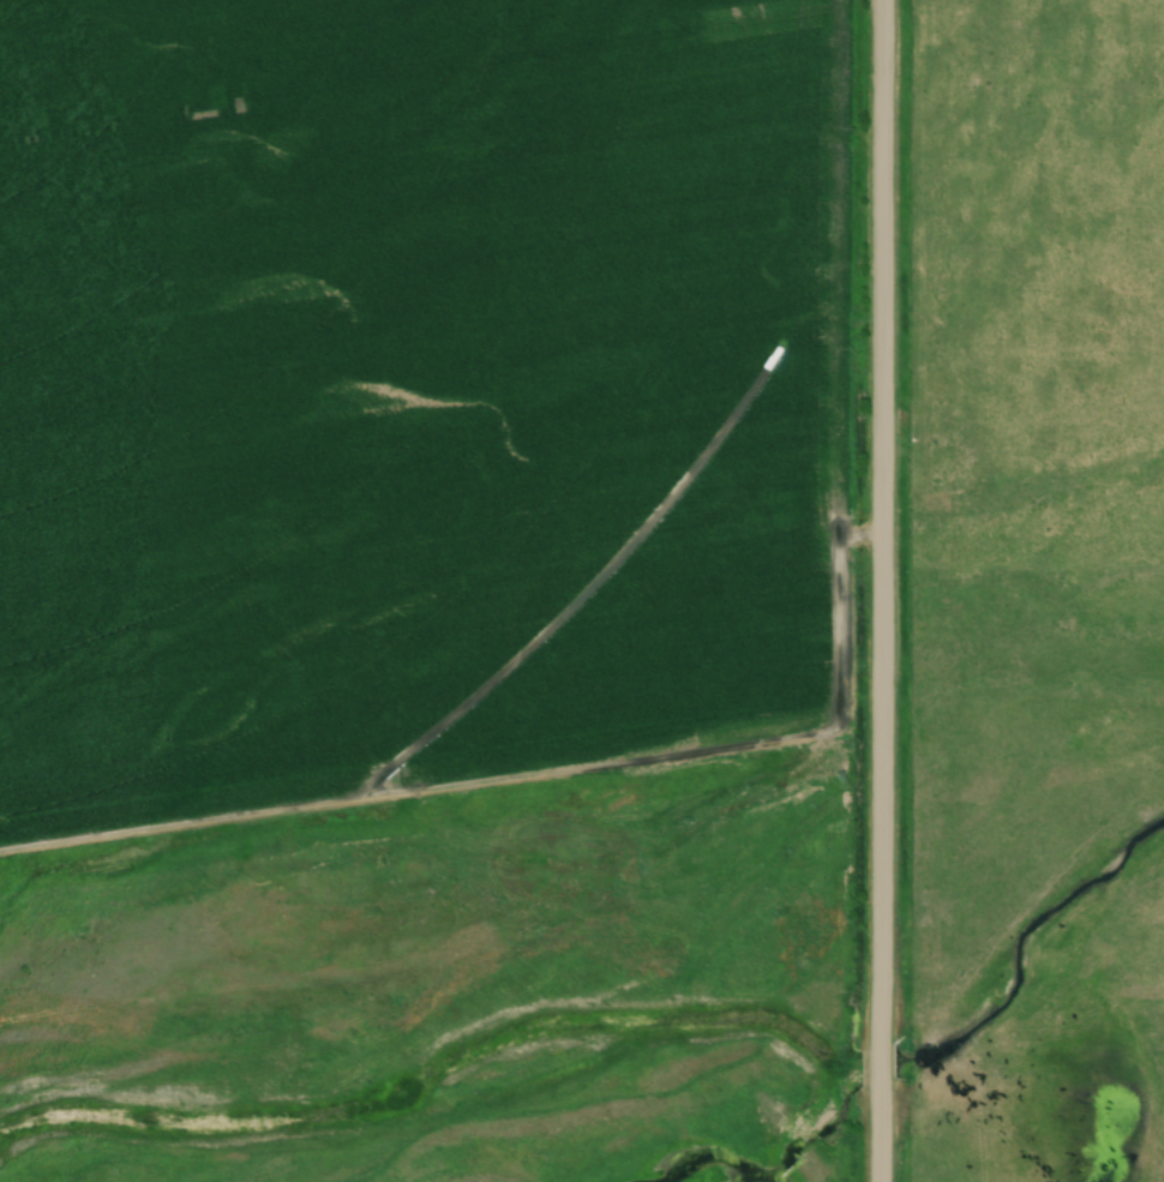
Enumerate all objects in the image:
road: (883, 520)
road: (440, 778)
road: (881, 1062)
road: (881, 1133)

